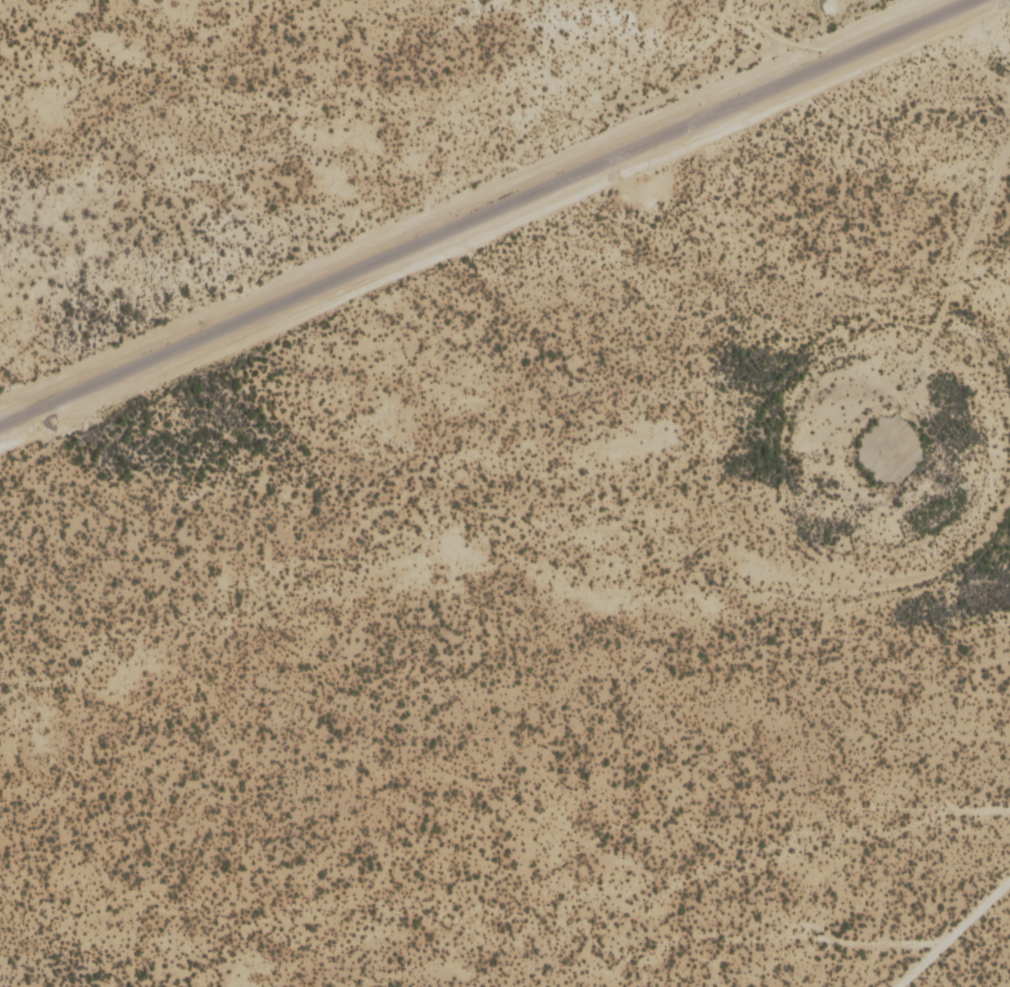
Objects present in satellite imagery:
building: (418, 732)
building: (635, 746)
building: (636, 760)

